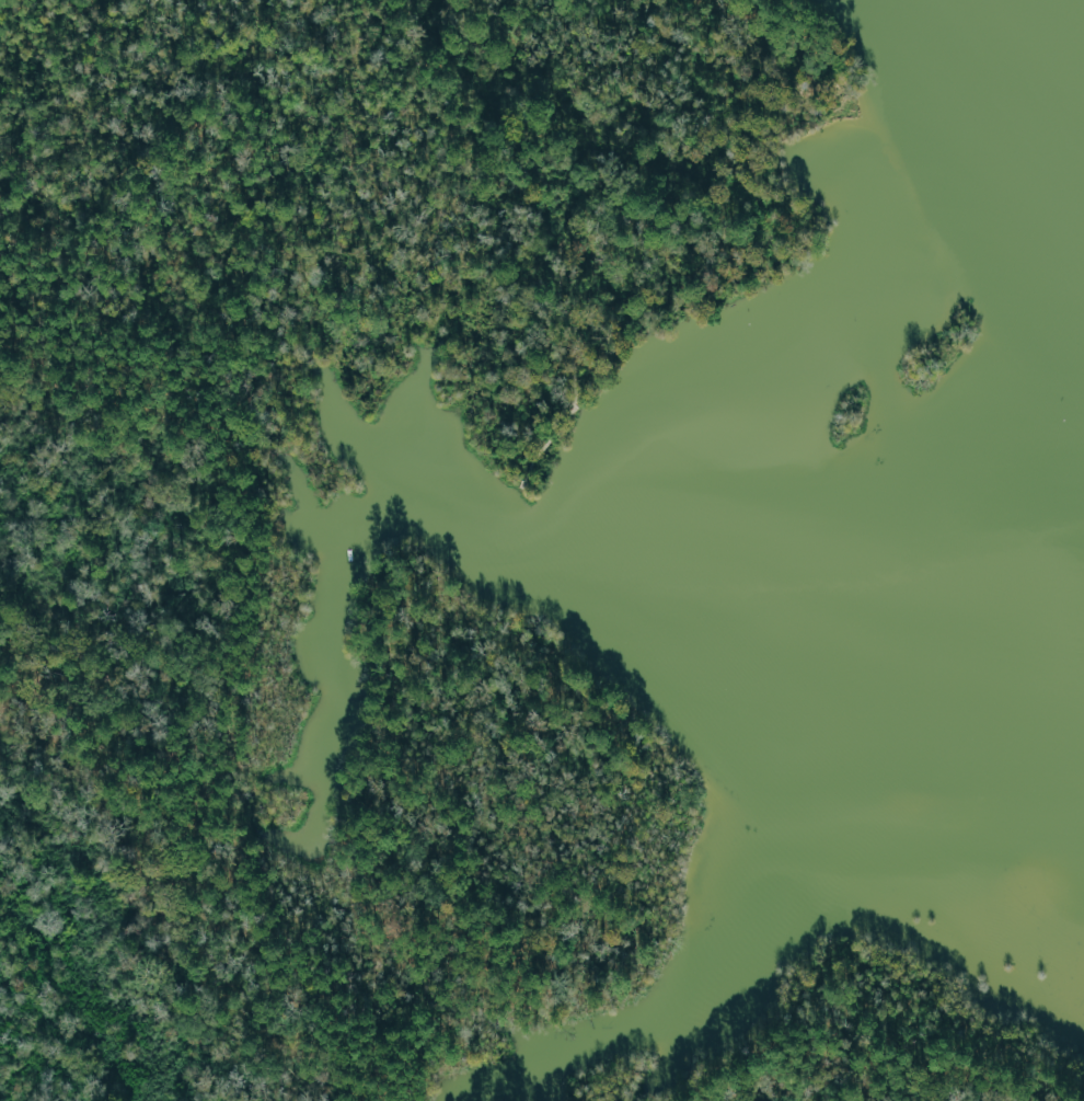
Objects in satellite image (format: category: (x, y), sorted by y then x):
road: (529, 136)
road: (573, 394)
park: (146, 550)

